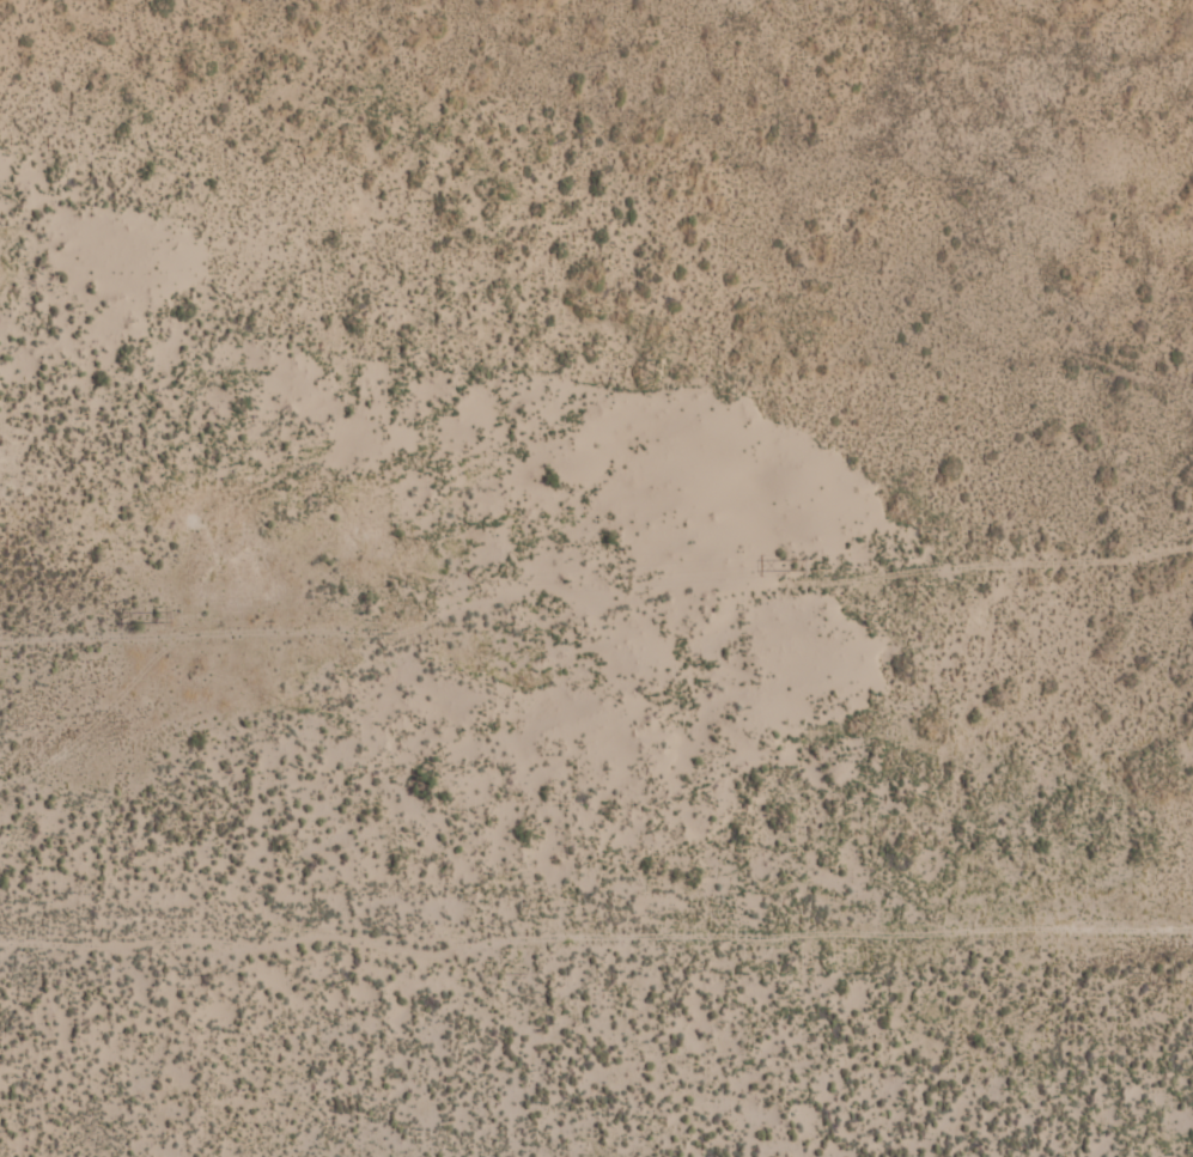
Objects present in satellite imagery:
road: (597, 602)

